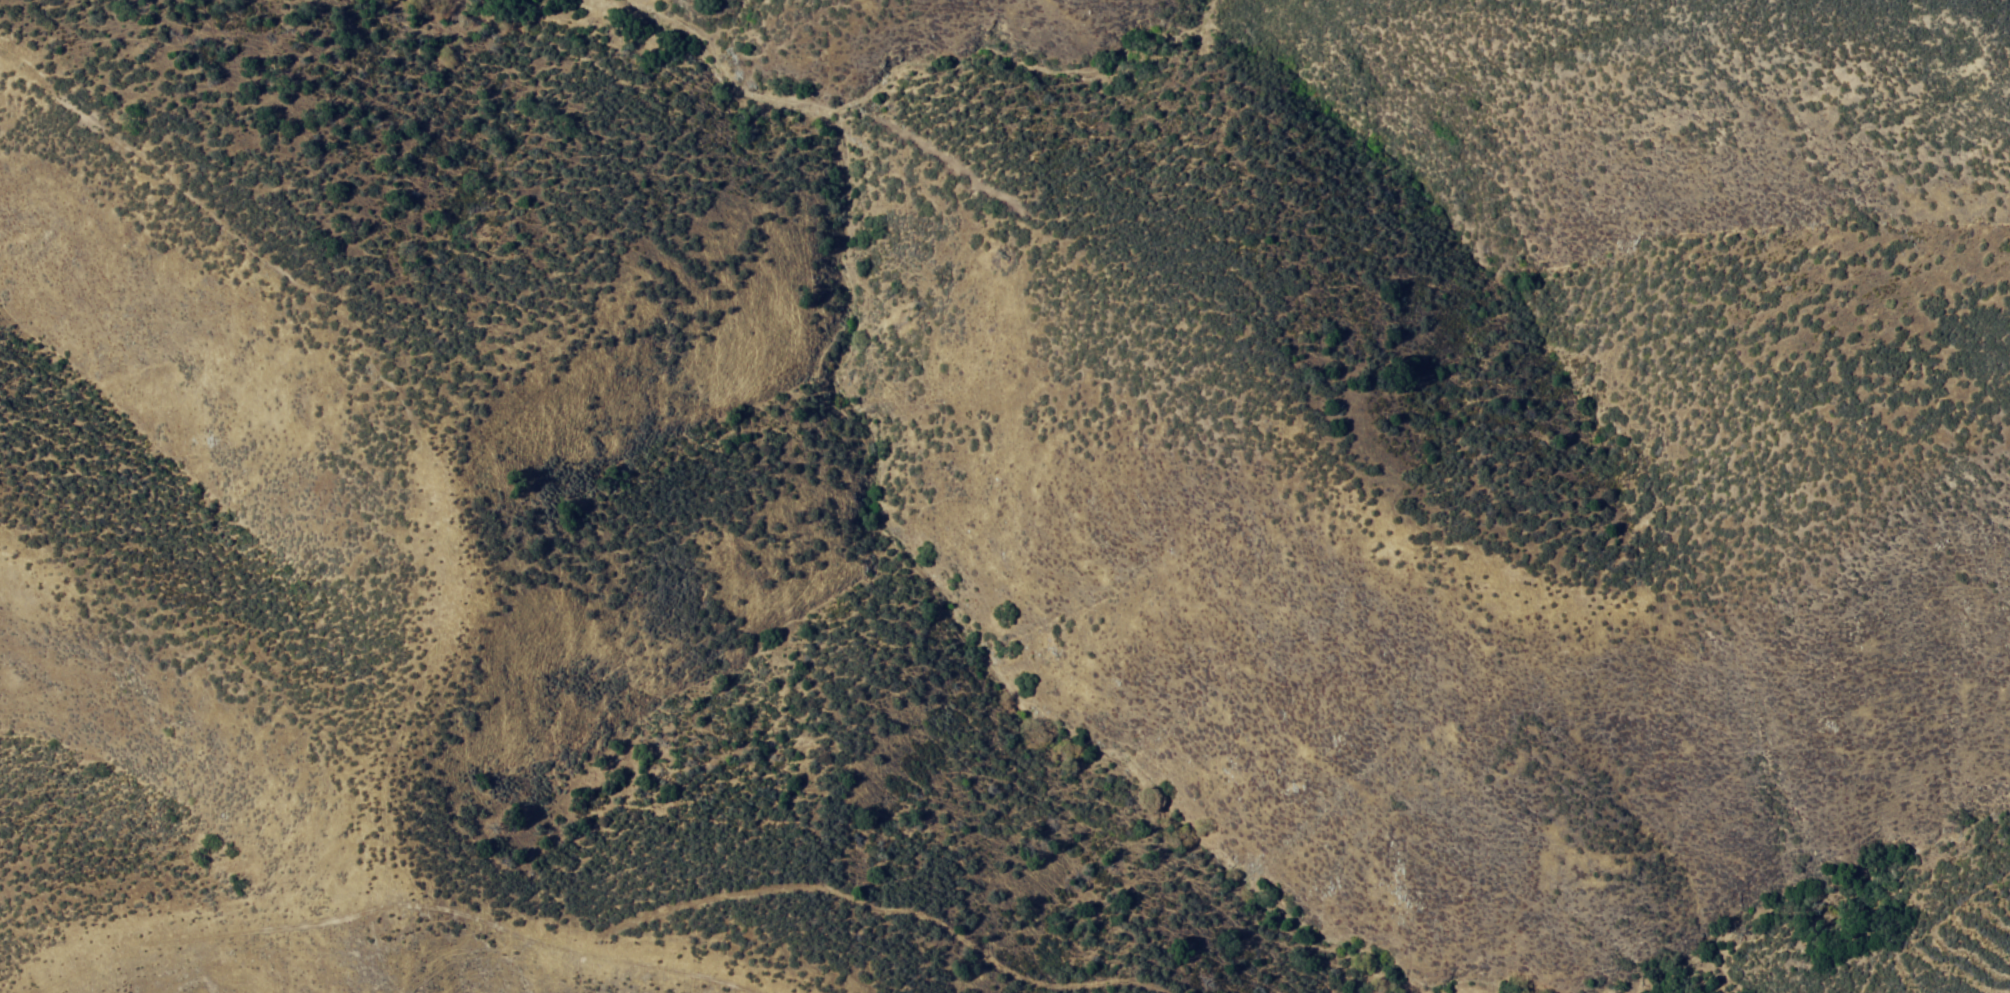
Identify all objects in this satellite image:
road: (382, 981)

